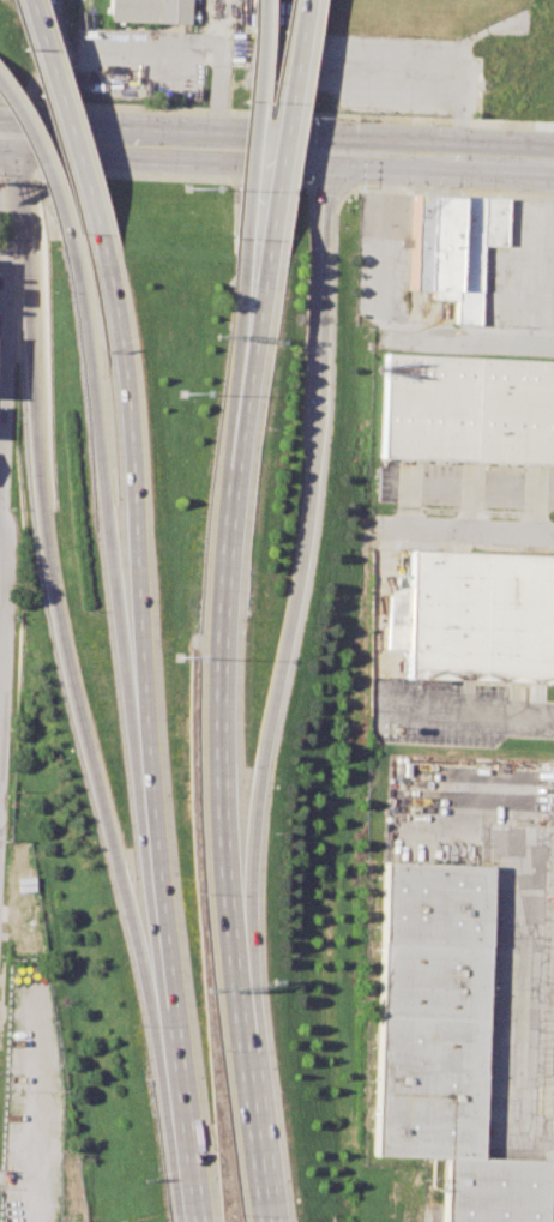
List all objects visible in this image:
building: (145, 11)
road: (215, 46)
road: (277, 114)
road: (60, 118)
road: (252, 120)
road: (284, 120)
road: (8, 134)
road: (173, 143)
traffic signals: (330, 153)
road: (40, 157)
road: (441, 158)
road: (16, 162)
road: (18, 169)
road: (174, 177)
road: (330, 187)
road: (452, 191)
building: (451, 249)
road: (240, 314)
road: (252, 315)
road: (389, 320)
road: (10, 349)
building: (468, 411)
road: (127, 489)
road: (100, 490)
road: (2, 510)
road: (469, 530)
road: (297, 544)
road: (2, 588)
building: (474, 618)
road: (55, 626)
road: (215, 660)
parking lot: (452, 712)
road: (466, 712)
road: (156, 898)
road: (519, 998)
building: (439, 1035)
road: (242, 1074)
road: (179, 1136)
road: (265, 1220)
road: (191, 1221)

